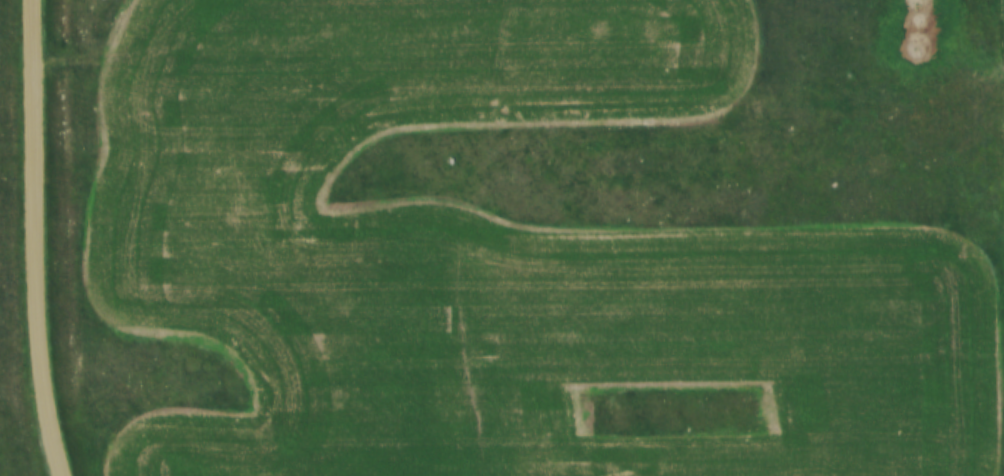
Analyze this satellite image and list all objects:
road: (36, 239)

